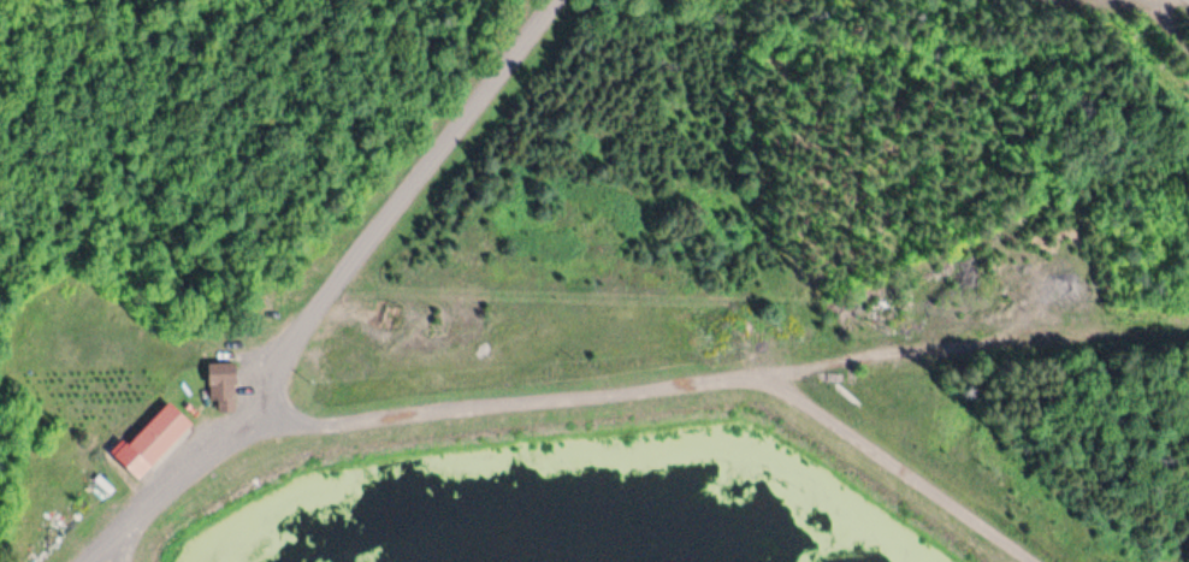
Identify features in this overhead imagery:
road: (1176, 17)
road: (332, 290)
road: (978, 343)
building: (220, 383)
road: (666, 386)
building: (150, 438)
road: (126, 544)

